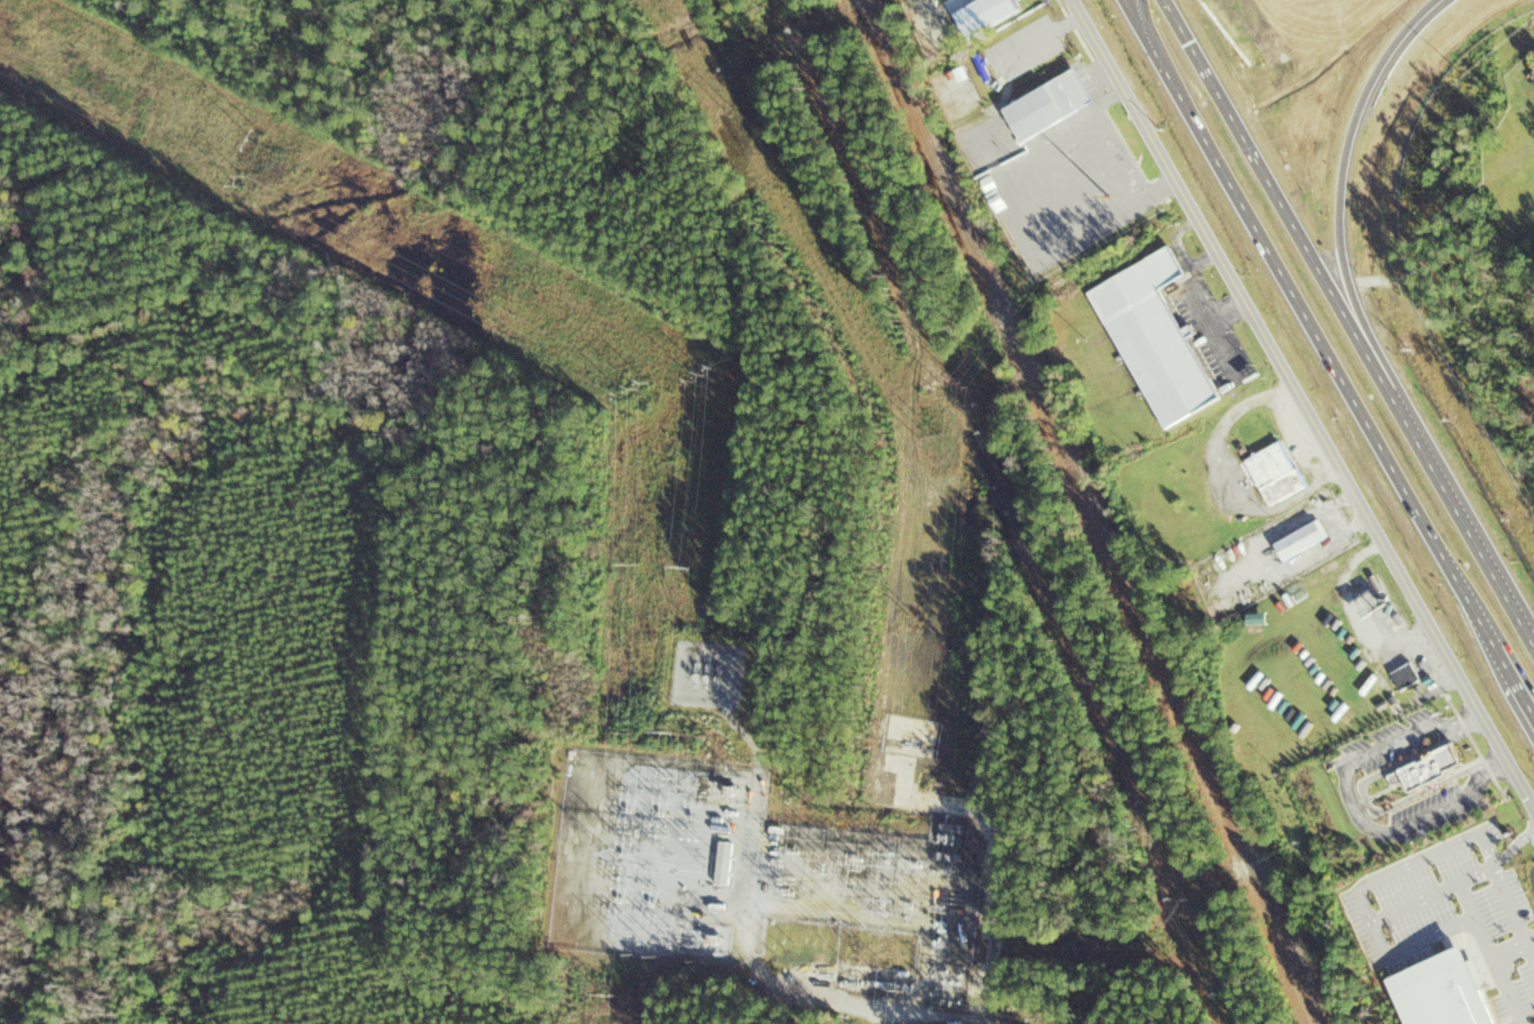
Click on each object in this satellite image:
road: (1136, 8)
building: (992, 14)
traffic signals: (1177, 20)
building: (1008, 34)
building: (1054, 38)
building: (1533, 70)
building: (1047, 106)
power tower: (734, 112)
power tower: (262, 138)
road: (1343, 179)
power tower: (243, 181)
road: (1274, 191)
airport: (1422, 192)
road: (1310, 321)
building: (1154, 338)
power tower: (709, 375)
power tower: (967, 385)
power tower: (636, 390)
road: (1300, 403)
power tower: (934, 439)
building: (1275, 473)
railway: (1081, 475)
road: (1459, 513)
building: (1300, 540)
power tower: (633, 564)
power tower: (688, 567)
power tower: (711, 650)
power substation: (708, 673)
building: (1404, 676)
road: (1514, 677)
power tower: (670, 730)
power tower: (704, 736)
building: (1433, 763)
power tower: (795, 796)
building: (1483, 849)
power tower: (887, 861)
power tower: (920, 862)
building: (724, 863)
power substation: (744, 872)
power tower: (880, 901)
power tower: (914, 906)
power tower: (784, 946)
building: (1463, 954)
road: (755, 961)
power tower: (877, 963)
railway: (1310, 987)
power tower: (905, 990)
power tower: (611, 995)

